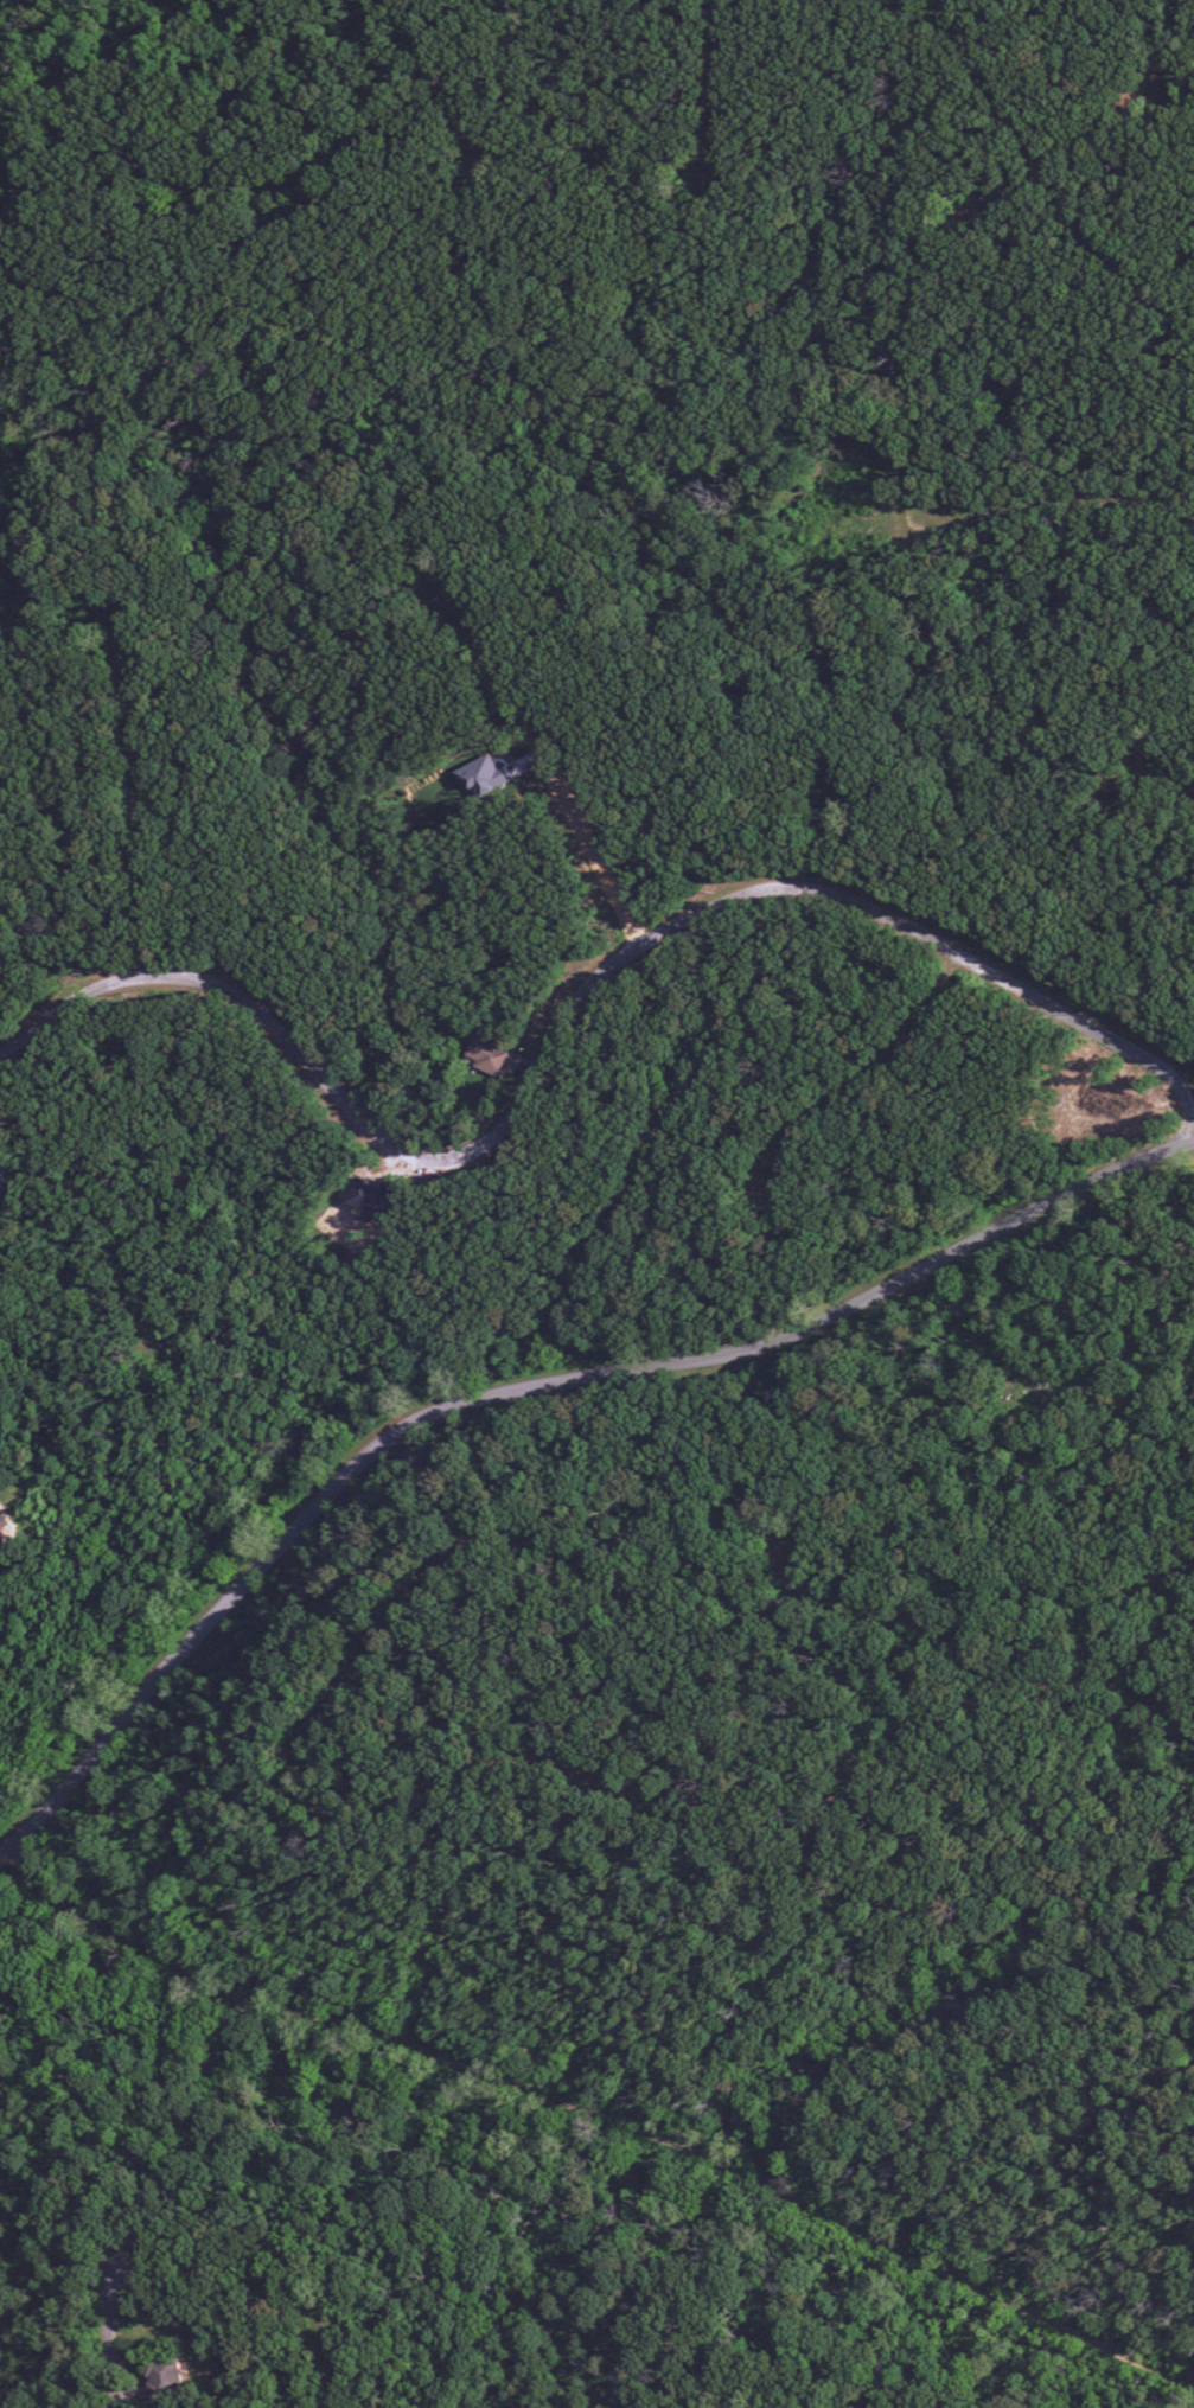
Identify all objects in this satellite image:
road: (434, 38)
road: (720, 82)
road: (1122, 98)
road: (480, 119)
road: (1060, 164)
road: (315, 168)
road: (1003, 181)
road: (1019, 516)
road: (551, 762)
road: (1186, 773)
building: (481, 775)
road: (153, 810)
road: (831, 839)
road: (46, 945)
road: (570, 1023)
building: (489, 1055)
road: (863, 1067)
road: (9, 1167)
road: (124, 1213)
road: (1118, 1374)
road: (526, 1391)
building: (4, 1528)
road: (788, 1569)
road: (1092, 1621)
road: (312, 1722)
road: (1128, 2078)
road: (600, 2116)
road: (113, 2343)
road: (341, 2364)
building: (162, 2376)

